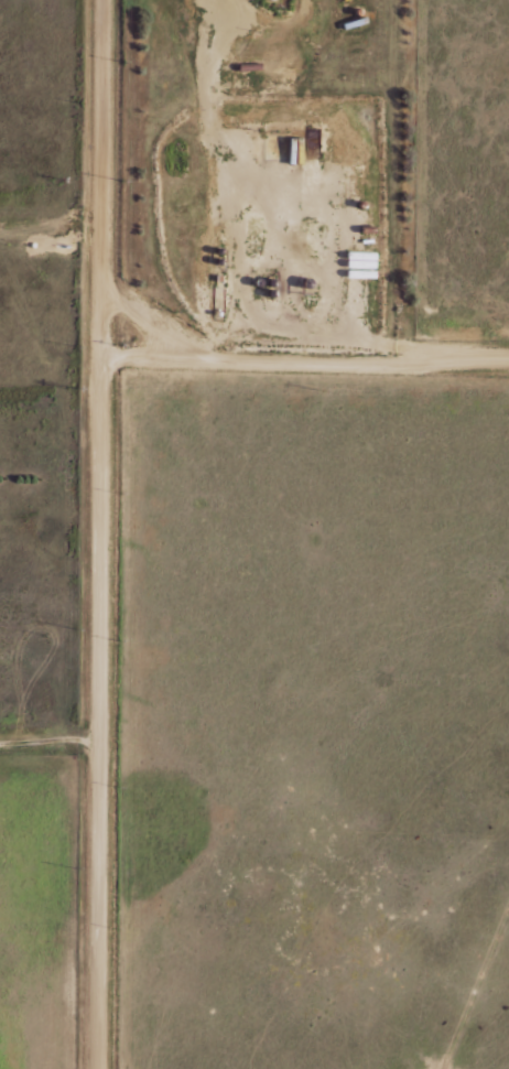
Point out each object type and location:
road: (307, 354)
road: (104, 534)

